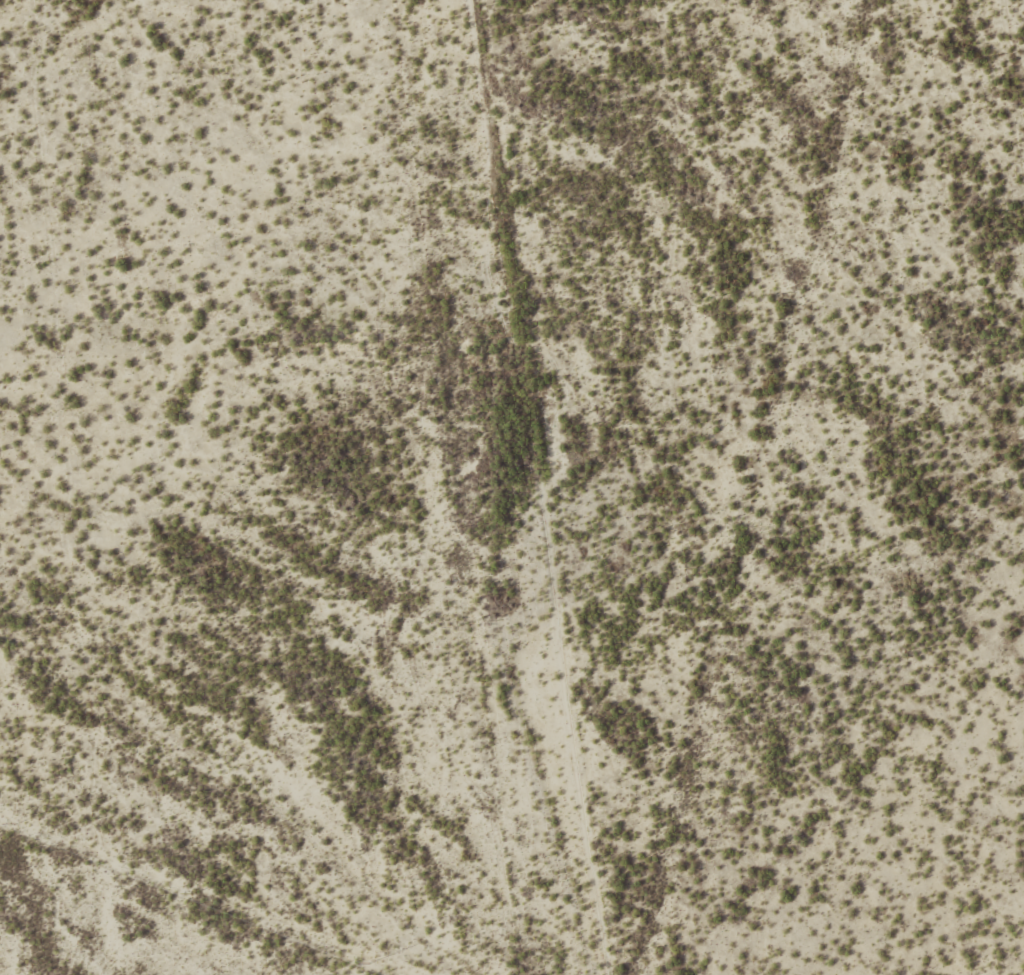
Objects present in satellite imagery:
road: (867, 138)
power tower: (16, 824)
power tower: (192, 894)
power tower: (370, 964)

